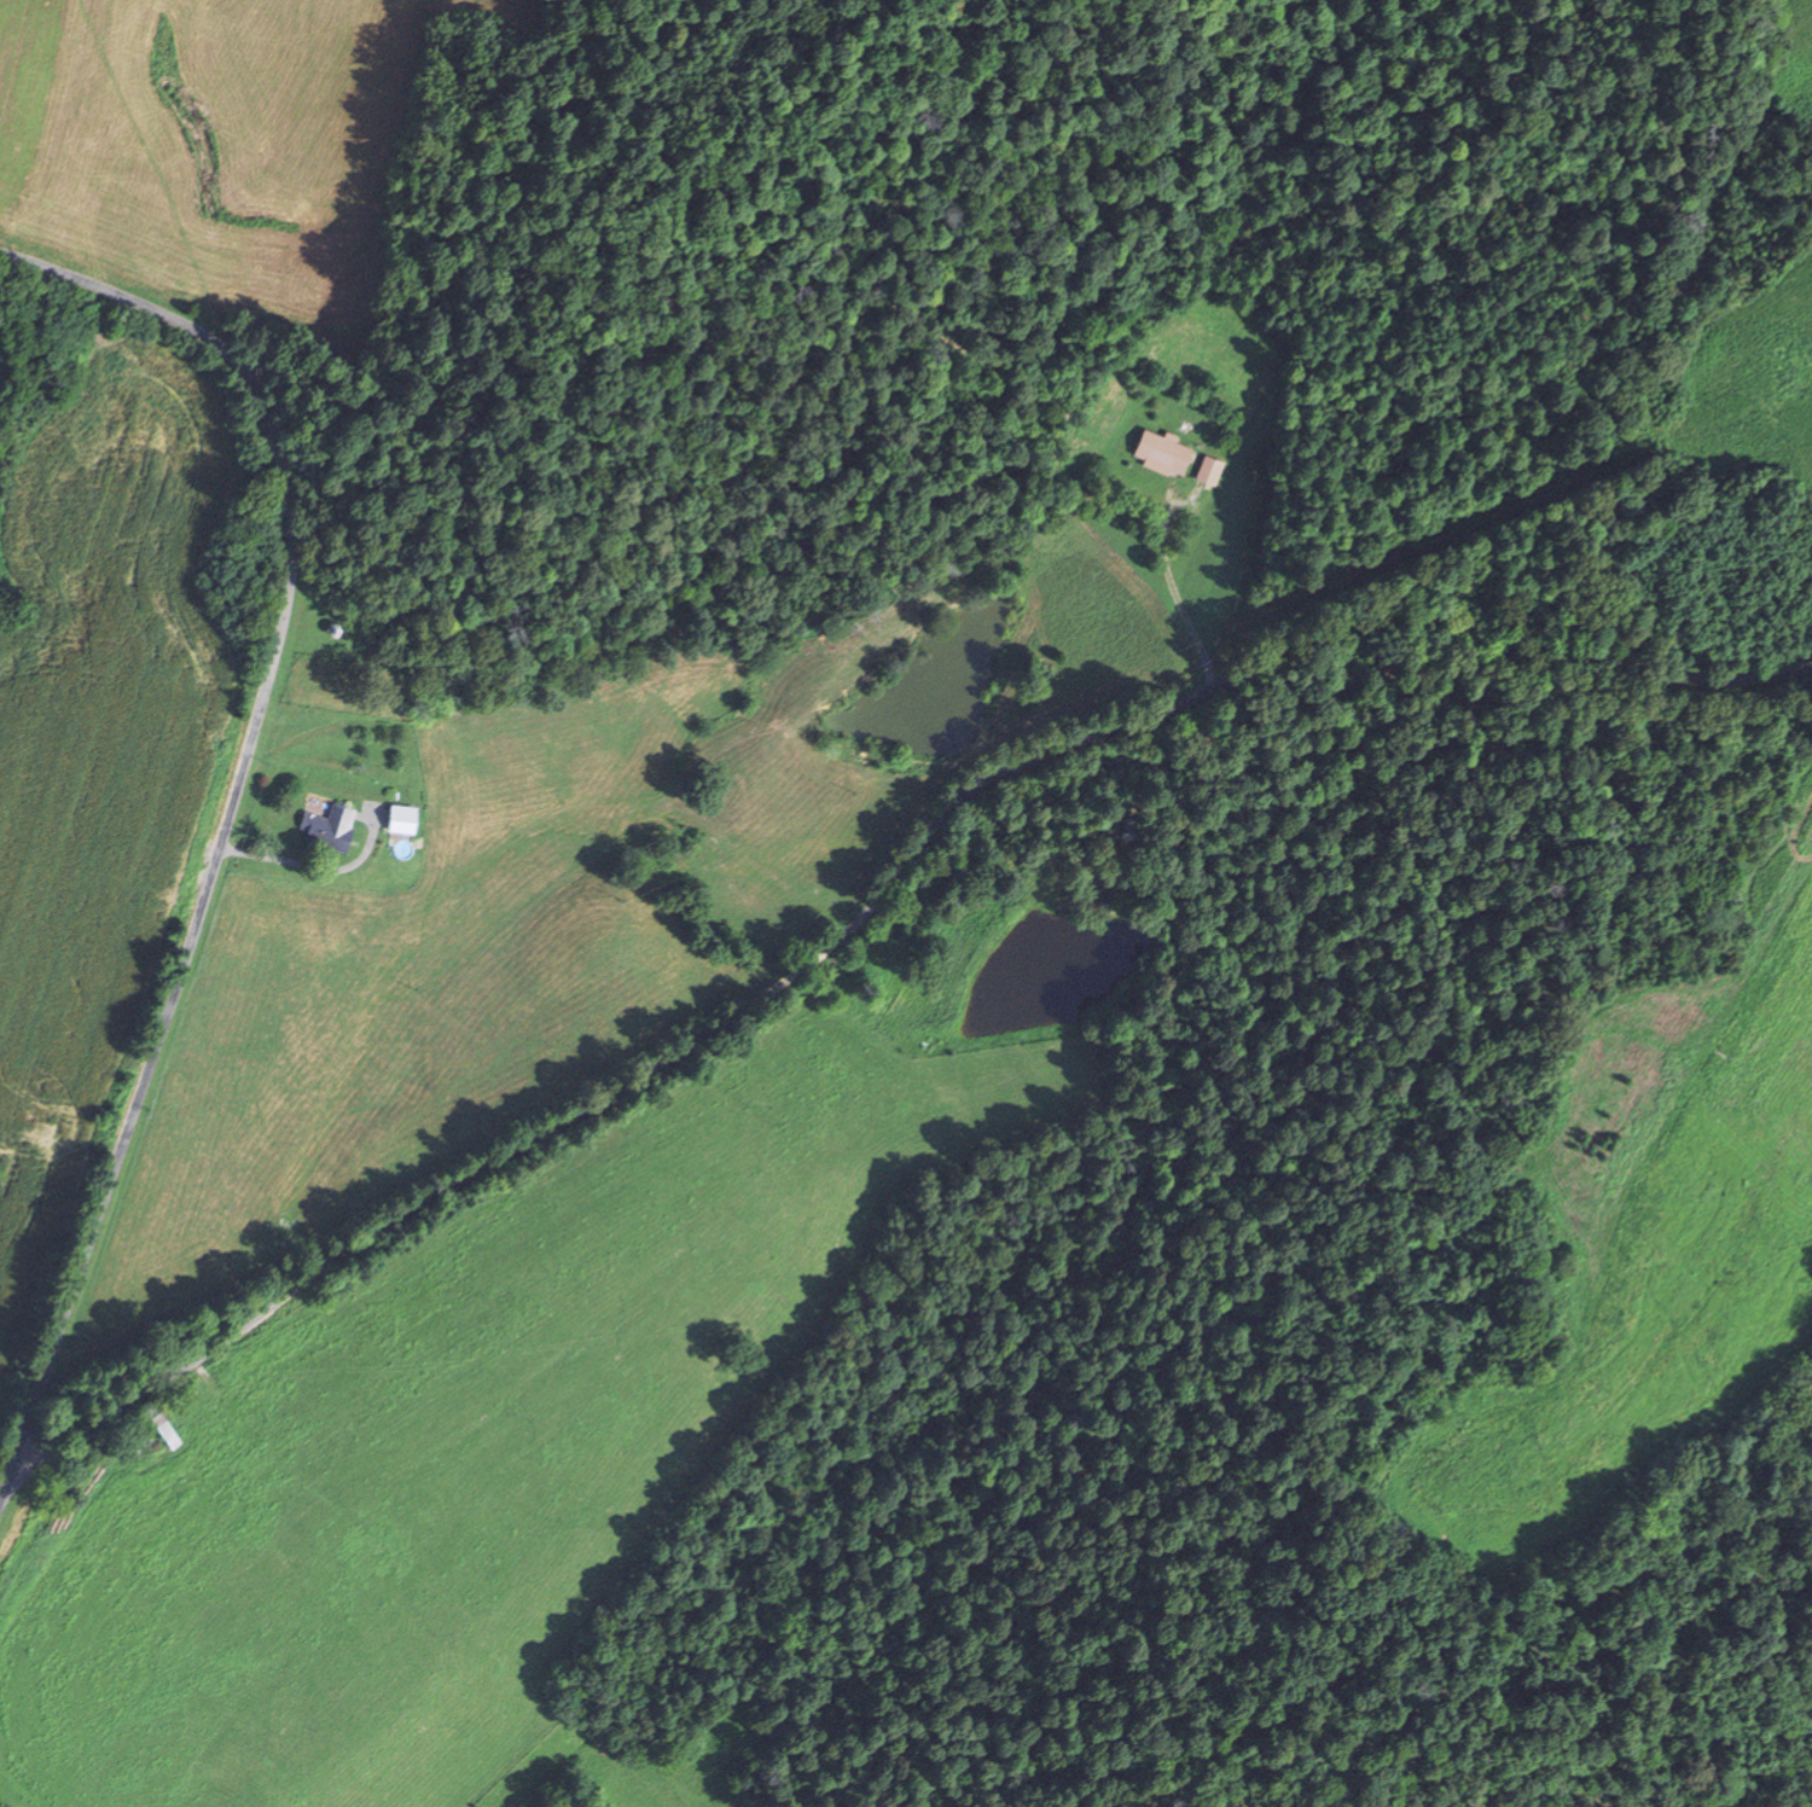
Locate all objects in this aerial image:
road: (230, 812)
road: (869, 912)
road: (46, 1505)

